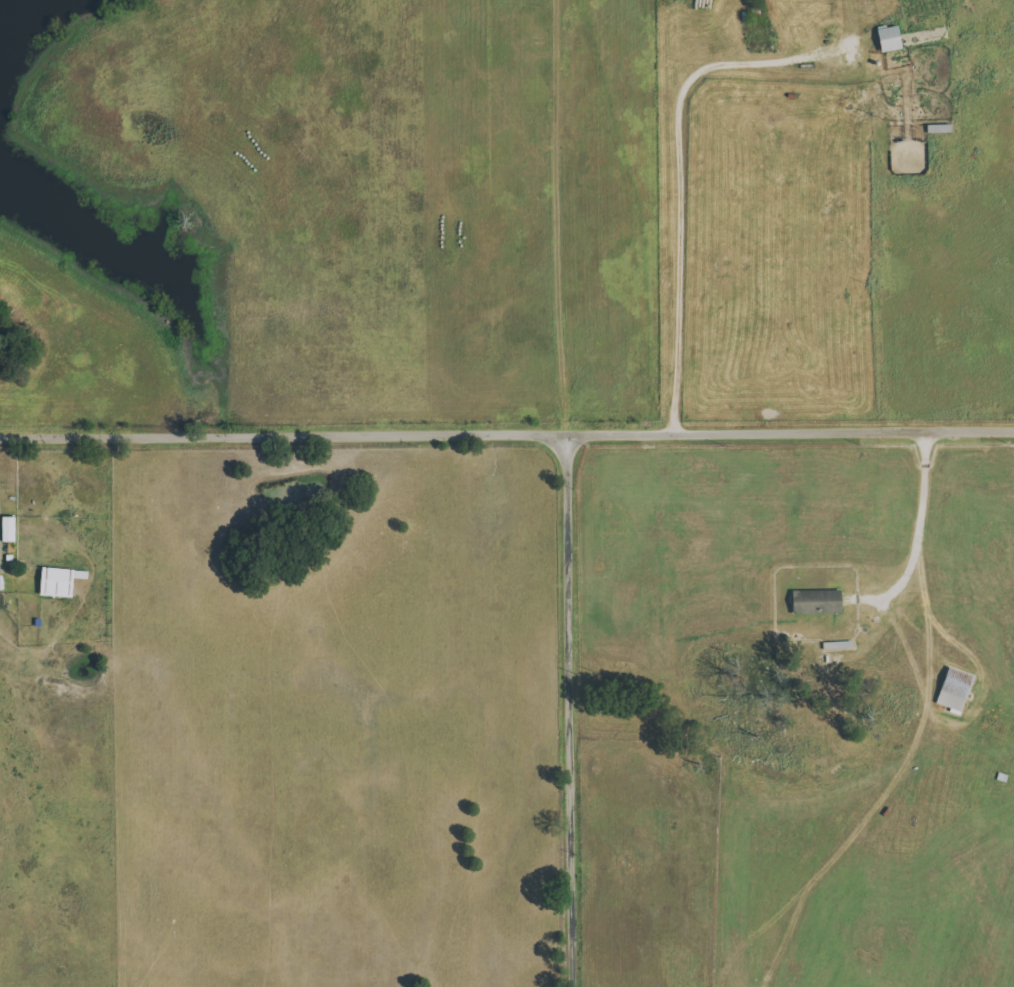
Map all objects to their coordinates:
building: (894, 38)
building: (943, 128)
road: (507, 435)
building: (13, 529)
building: (64, 582)
building: (821, 602)
road: (570, 710)

